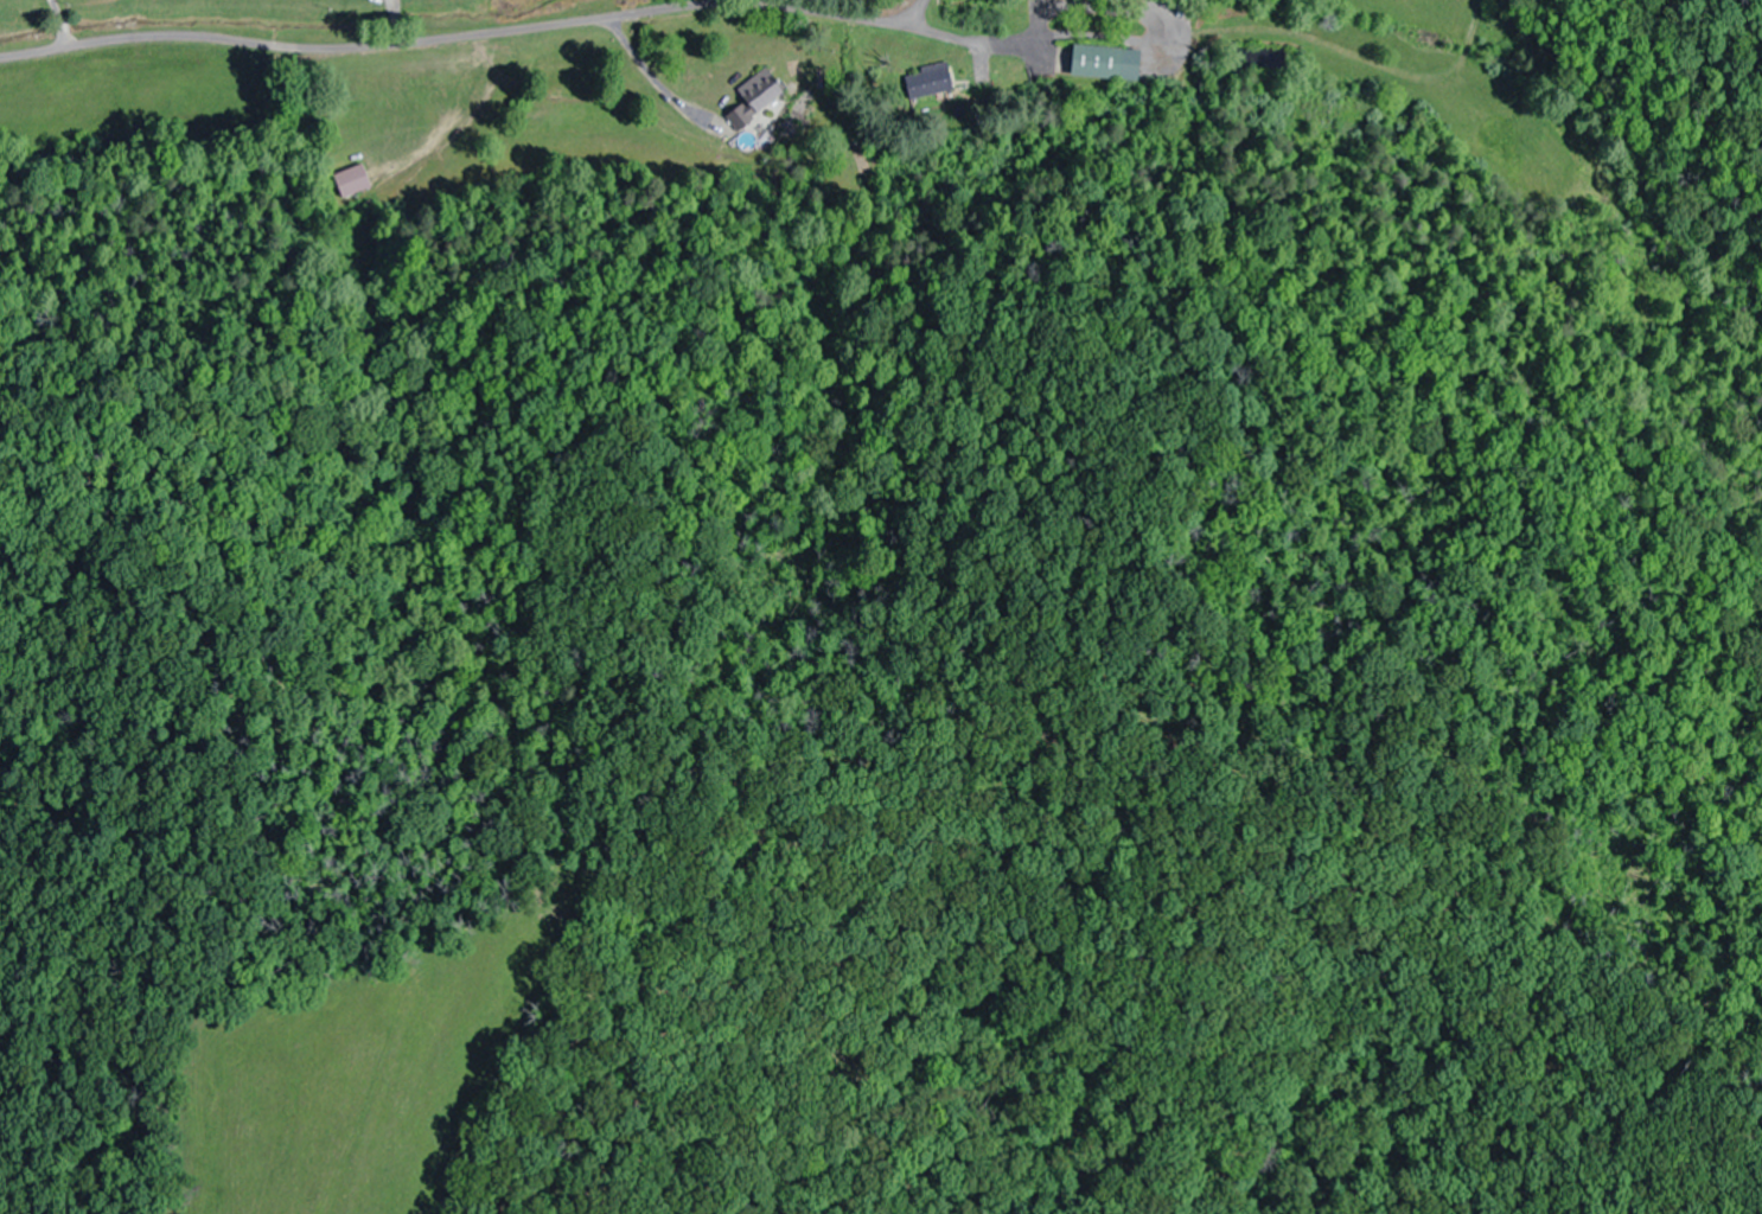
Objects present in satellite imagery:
road: (492, 33)
building: (1105, 62)
building: (756, 94)
building: (350, 180)

